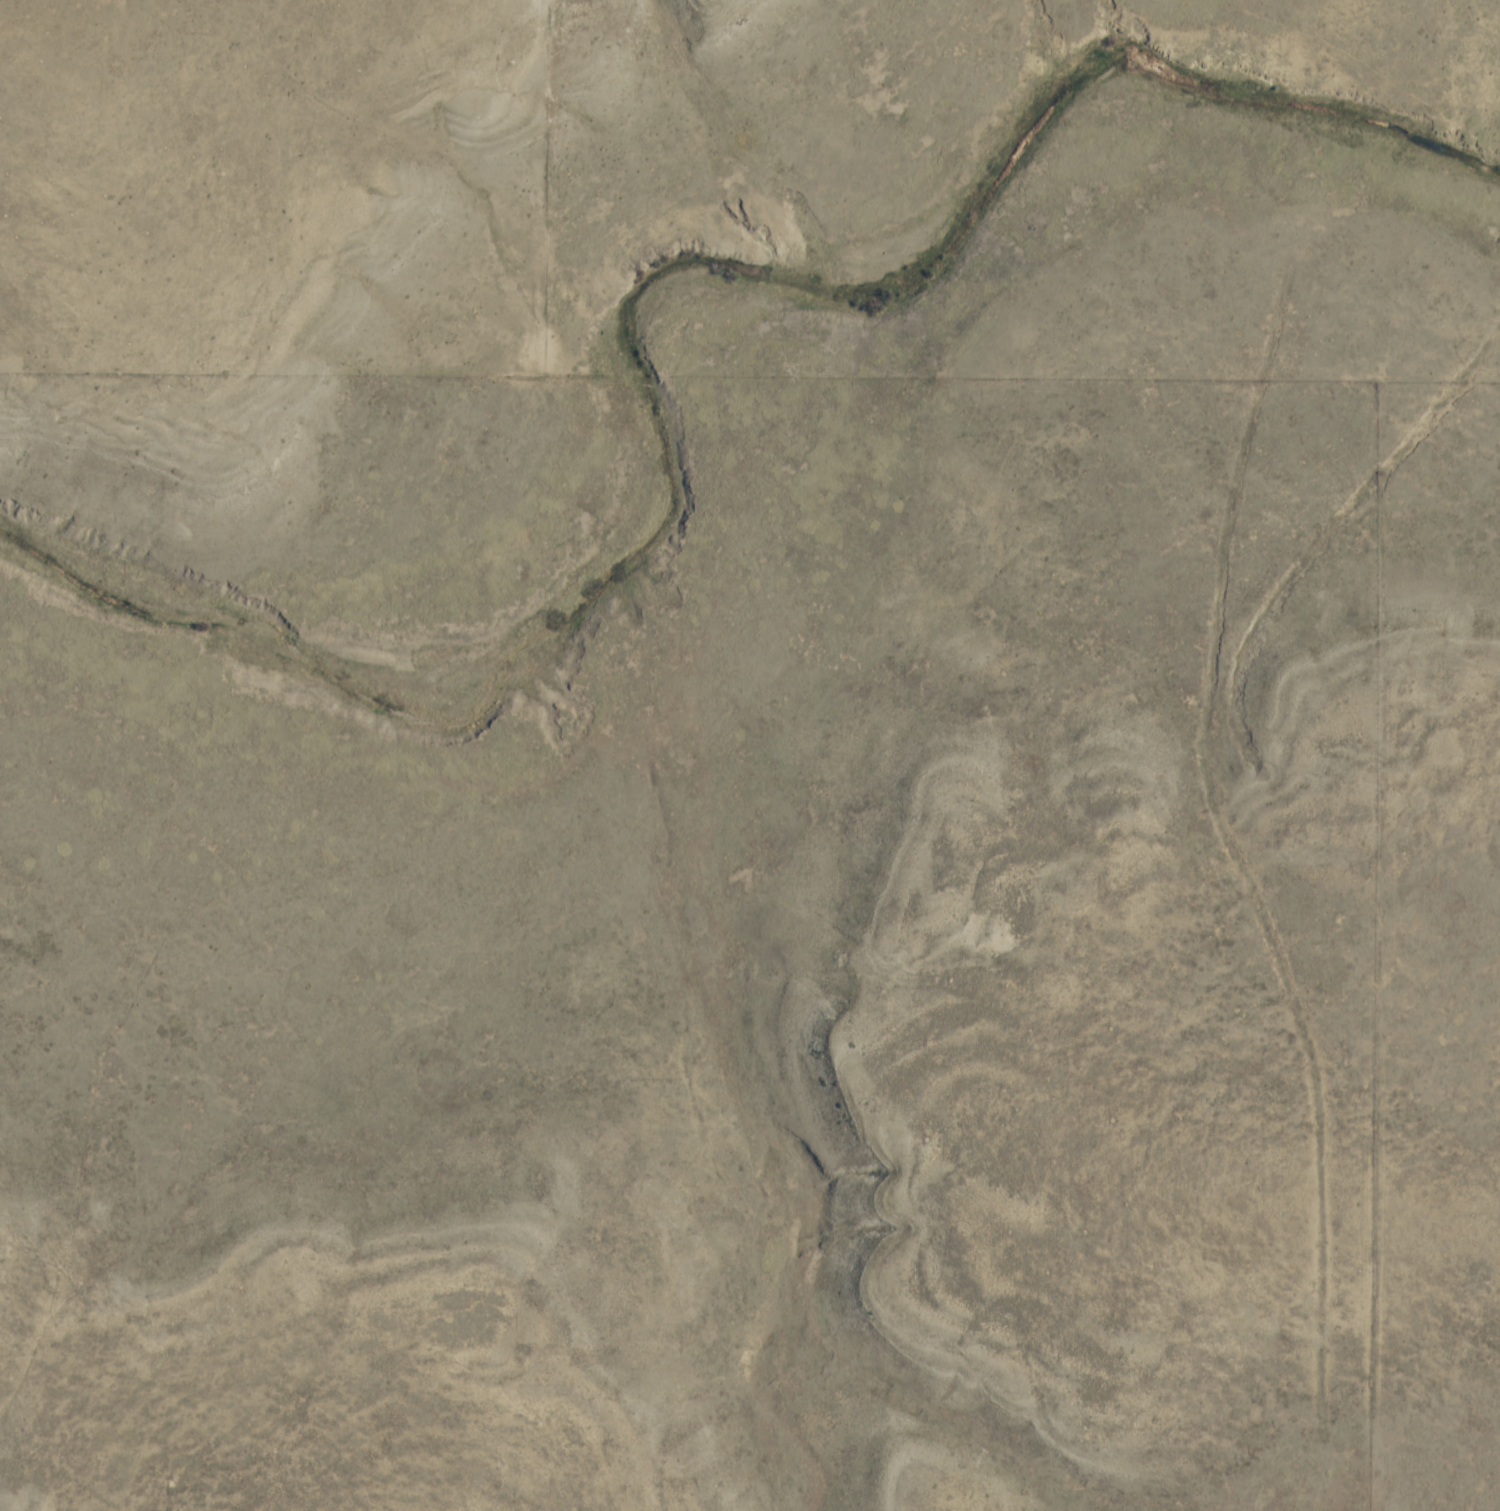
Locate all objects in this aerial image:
road: (1480, 39)
road: (1191, 835)

